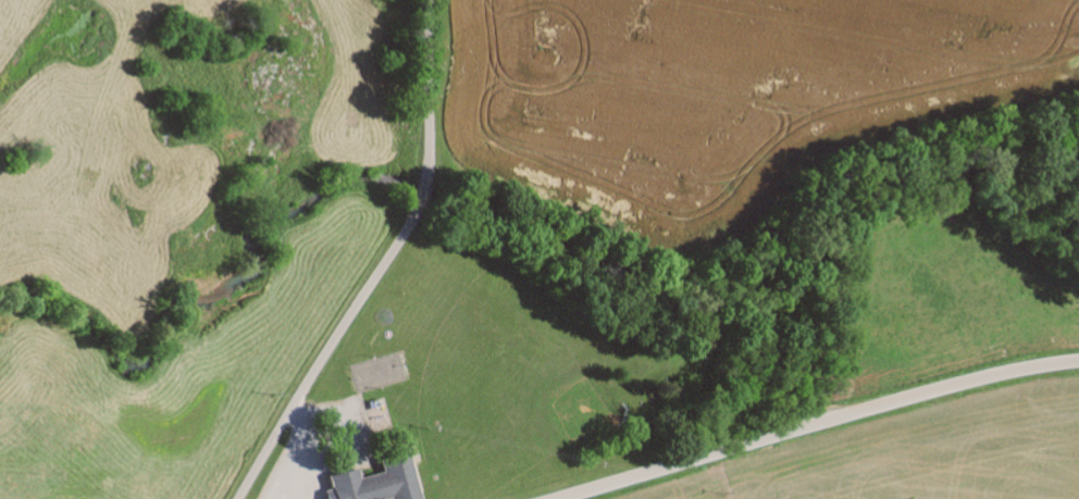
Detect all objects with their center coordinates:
road: (386, 264)
road: (822, 425)
building: (375, 482)

